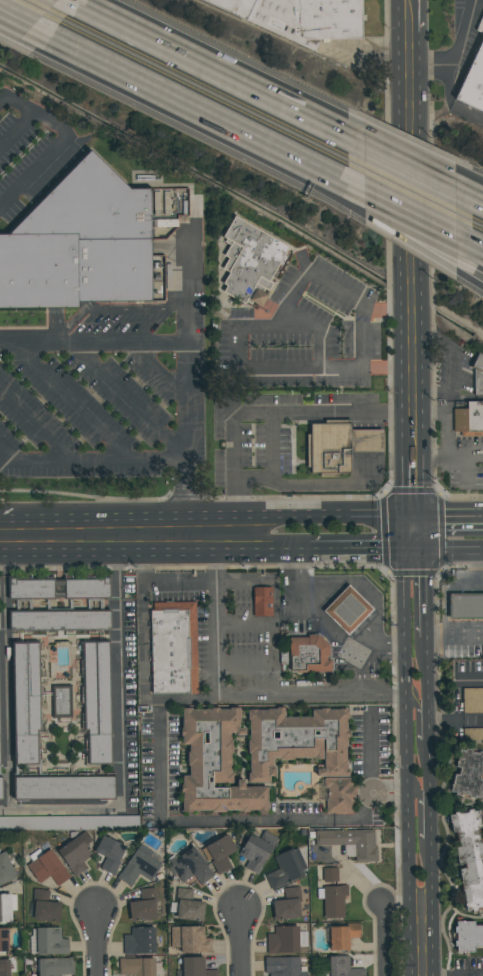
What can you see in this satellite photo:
road: (78, 1)
road: (407, 16)
building: (300, 18)
road: (25, 20)
road: (21, 22)
road: (93, 53)
road: (459, 55)
road: (216, 69)
building: (473, 82)
road: (450, 103)
road: (14, 104)
road: (242, 127)
road: (14, 128)
road: (243, 141)
road: (47, 153)
road: (404, 163)
road: (470, 196)
road: (403, 206)
road: (402, 237)
road: (470, 239)
road: (410, 240)
building: (79, 248)
building: (251, 262)
road: (468, 275)
road: (235, 331)
road: (362, 338)
road: (92, 342)
road: (157, 370)
building: (477, 373)
road: (185, 396)
road: (71, 398)
road: (128, 401)
road: (323, 413)
building: (469, 419)
road: (35, 420)
road: (443, 422)
building: (338, 446)
road: (413, 452)
road: (448, 456)
road: (233, 458)
road: (91, 460)
road: (413, 487)
road: (333, 516)
road: (448, 516)
traffic signals: (414, 517)
road: (126, 519)
road: (118, 534)
road: (408, 534)
road: (420, 534)
road: (128, 548)
road: (282, 549)
road: (356, 551)
traffic signals: (403, 551)
road: (415, 551)
traffic signals: (427, 552)
road: (455, 552)
road: (478, 581)
road: (177, 582)
building: (57, 588)
road: (452, 588)
road: (428, 594)
building: (265, 599)
building: (352, 605)
building: (466, 607)
gas station: (461, 615)
building: (59, 620)
road: (215, 623)
gas station: (335, 623)
road: (142, 624)
road: (326, 624)
road: (464, 634)
road: (437, 638)
building: (177, 646)
building: (313, 651)
road: (6, 669)
road: (429, 671)
road: (468, 683)
road: (275, 699)
building: (472, 700)
building: (61, 701)
building: (96, 701)
parking lot: (473, 701)
building: (26, 703)
road: (417, 705)
road: (440, 722)
road: (455, 722)
road: (472, 722)
road: (430, 724)
road: (407, 729)
building: (472, 734)
parking lot: (472, 734)
road: (122, 735)
building: (296, 741)
building: (214, 763)
road: (430, 767)
building: (469, 774)
building: (63, 787)
building: (1, 788)
road: (379, 792)
road: (373, 793)
road: (404, 793)
road: (419, 793)
building: (339, 794)
road: (431, 817)
road: (266, 820)
building: (43, 823)
building: (350, 841)
building: (257, 850)
building: (219, 852)
building: (75, 853)
building: (109, 853)
building: (470, 856)
building: (189, 866)
building: (47, 867)
building: (138, 868)
building: (286, 868)
building: (6, 869)
building: (329, 874)
road: (432, 875)
building: (332, 899)
building: (287, 904)
building: (143, 905)
building: (186, 905)
building: (7, 906)
building: (43, 906)
building: (342, 935)
building: (468, 936)
building: (189, 939)
building: (285, 939)
road: (384, 939)
building: (4, 940)
building: (139, 940)
building: (48, 941)
road: (421, 941)
road: (95, 942)
road: (240, 943)
building: (54, 966)
building: (137, 966)
building: (283, 966)
building: (4, 967)
building: (195, 967)
building: (343, 967)

